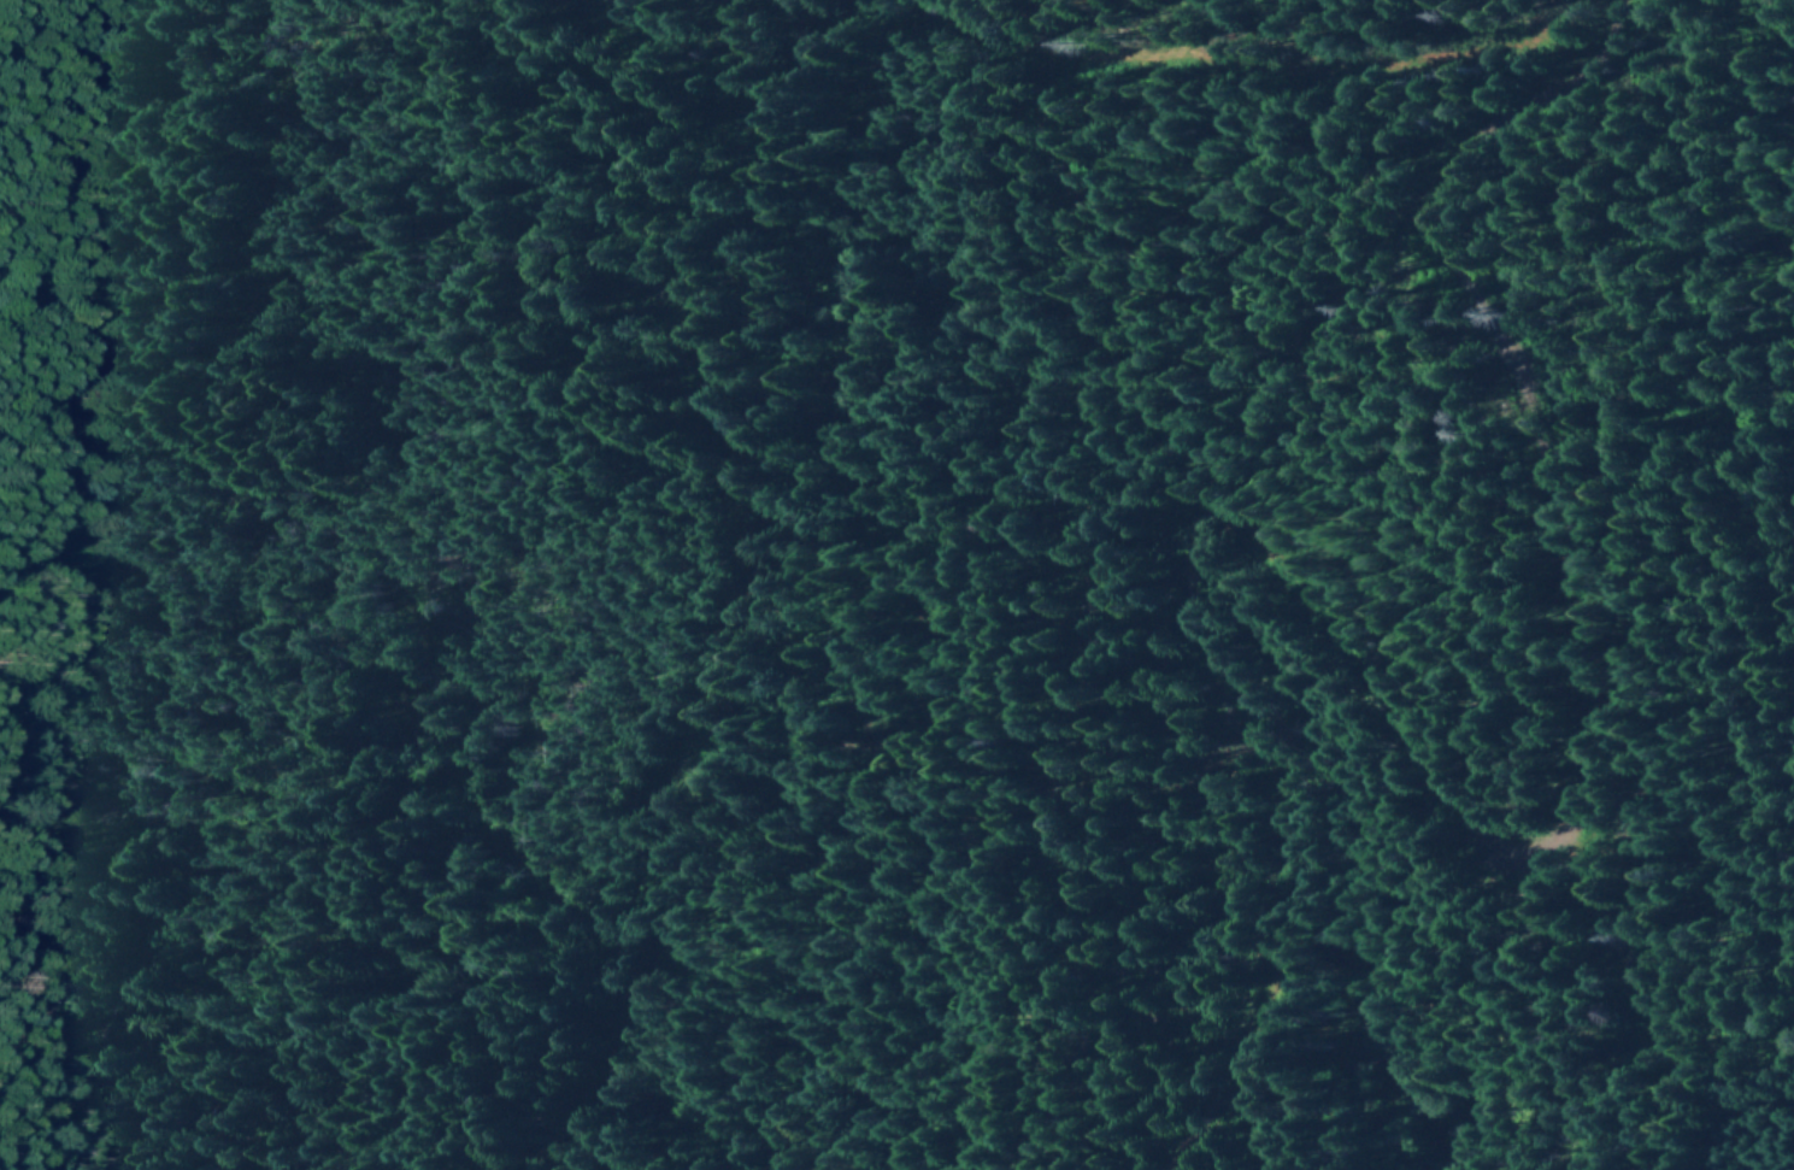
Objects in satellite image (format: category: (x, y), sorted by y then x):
road: (172, 883)

